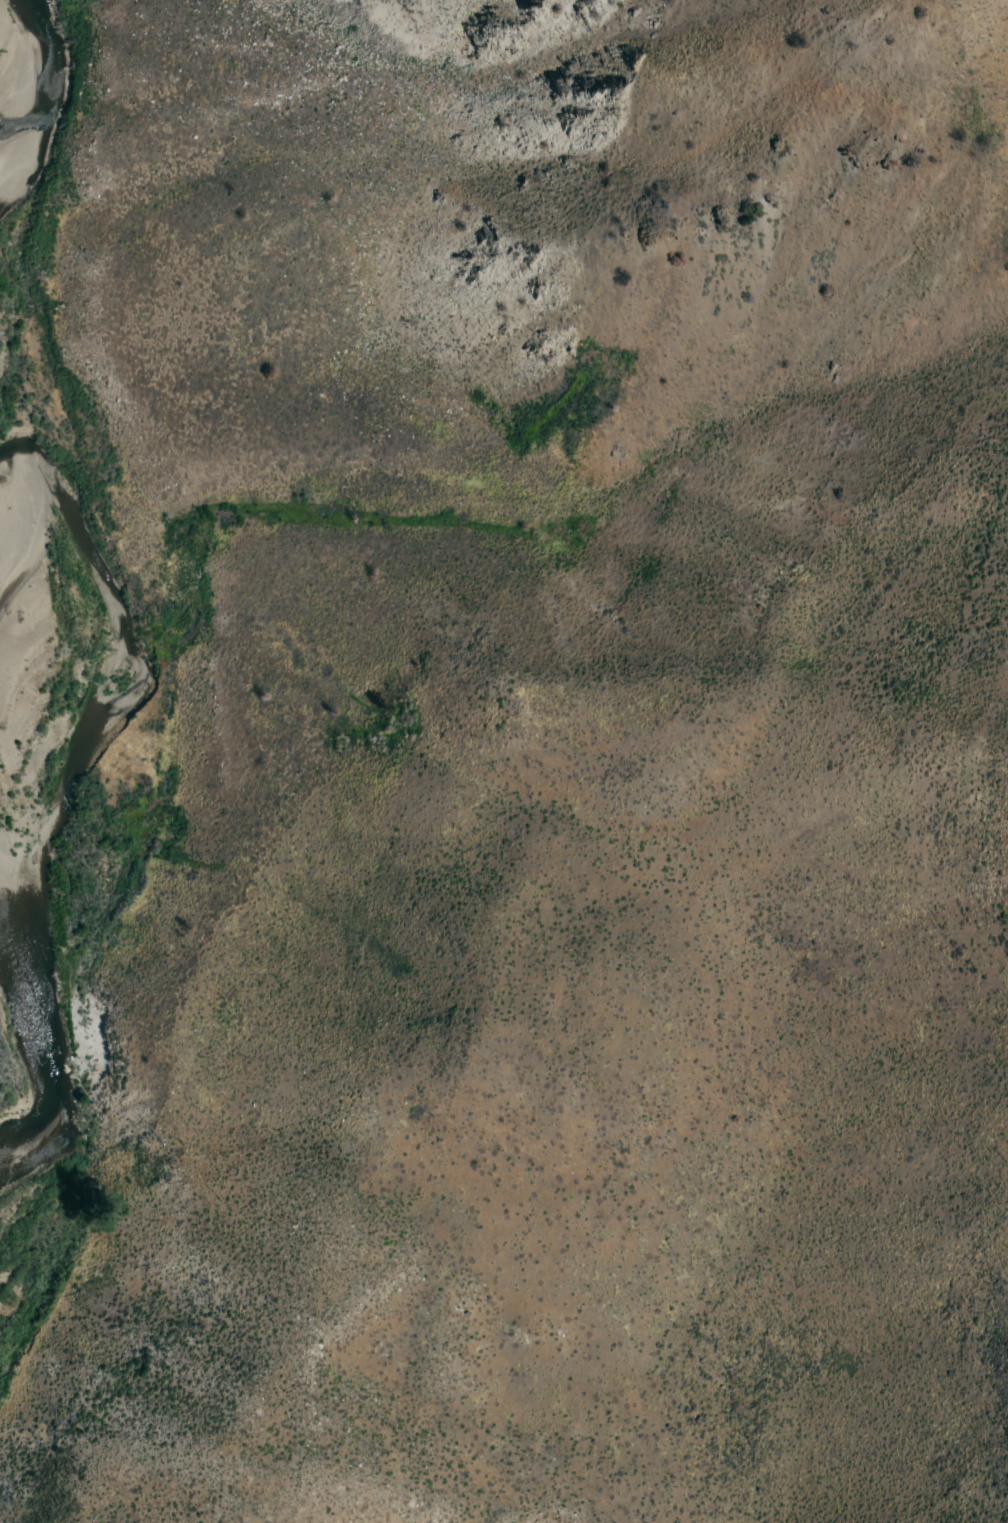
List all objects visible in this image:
river: (54, 94)
river: (47, 1040)

